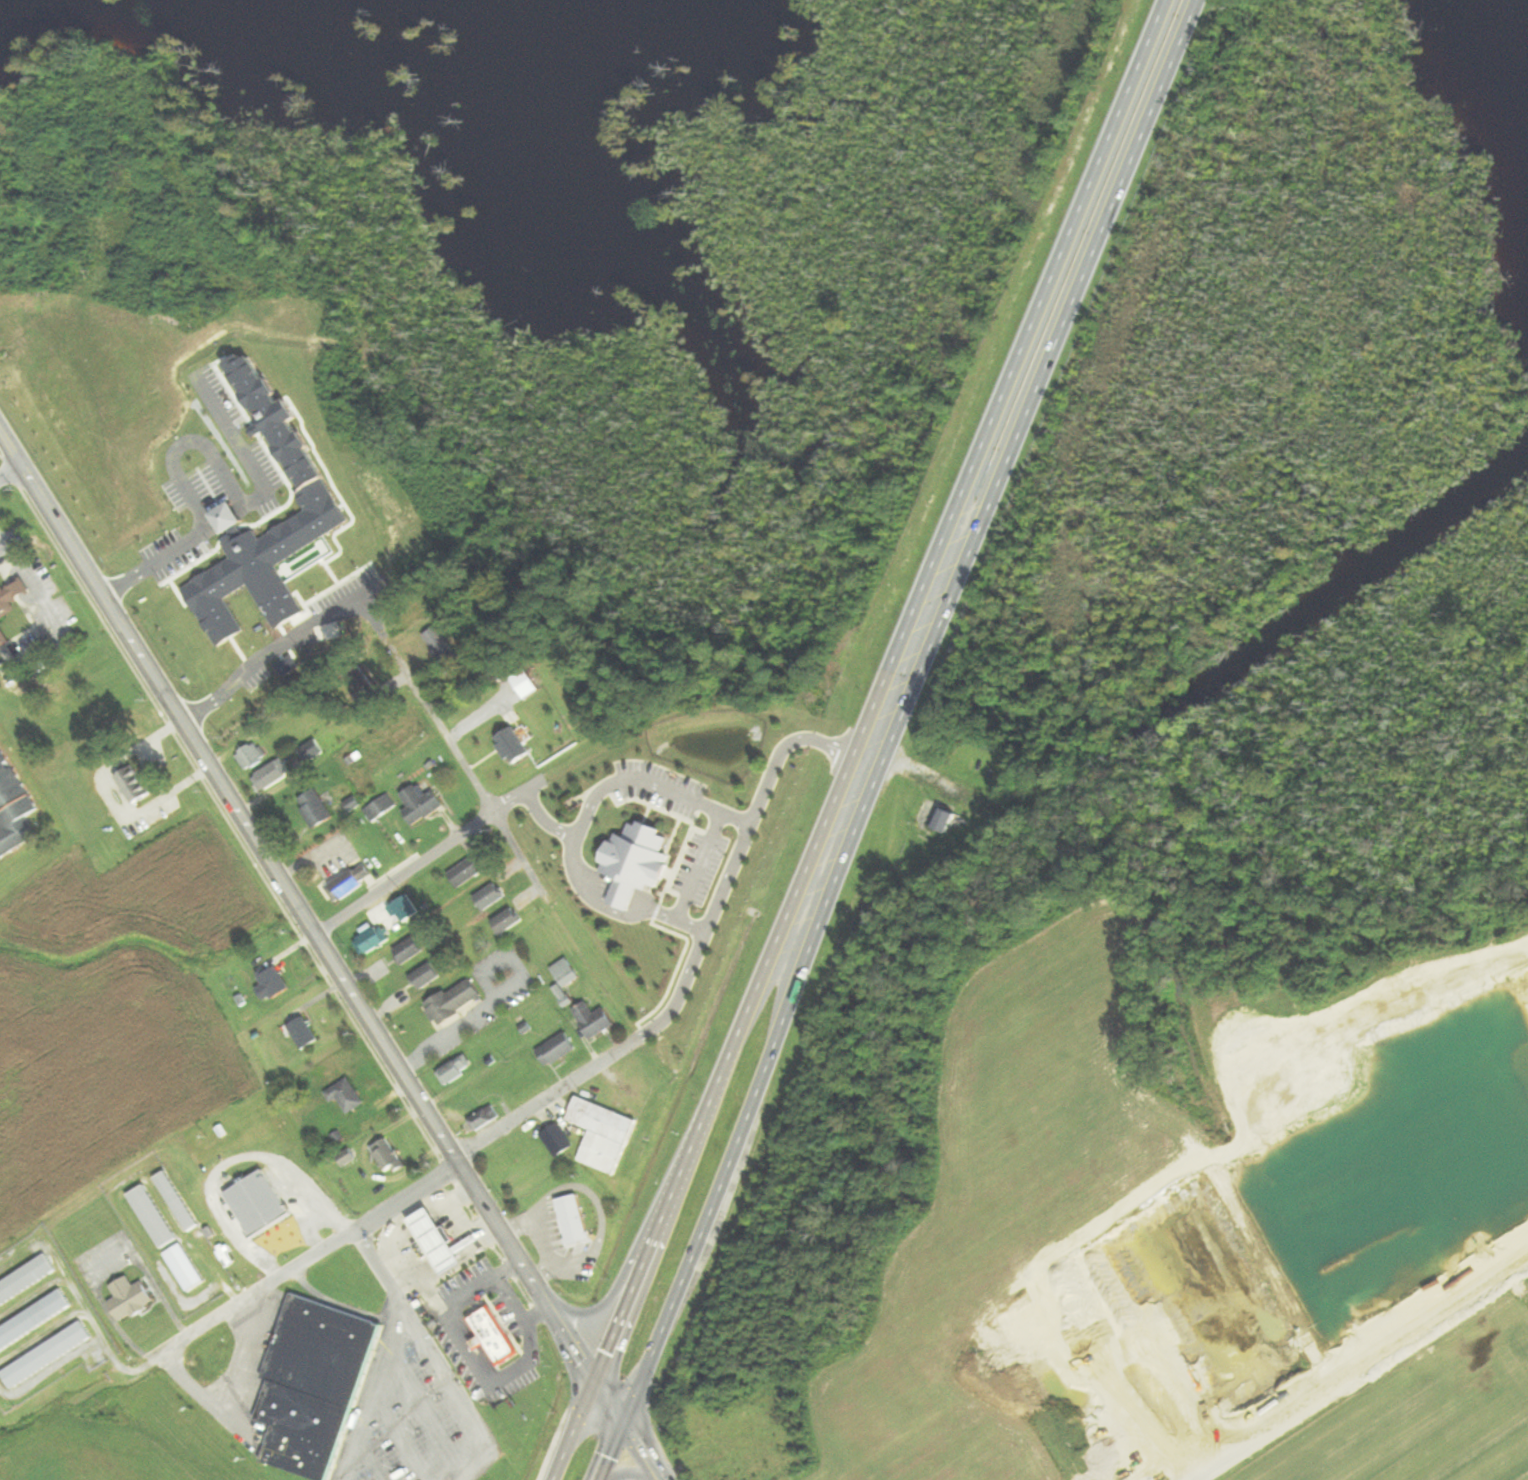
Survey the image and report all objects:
road: (1025, 350)
road: (1053, 357)
road: (195, 441)
road: (9, 468)
road: (42, 602)
building: (10, 608)
road: (289, 637)
building: (442, 646)
building: (527, 684)
building: (373, 695)
building: (313, 751)
building: (253, 756)
building: (273, 776)
road: (475, 777)
building: (136, 786)
building: (422, 805)
building: (382, 808)
building: (317, 809)
building: (14, 811)
building: (946, 820)
road: (461, 838)
road: (701, 867)
building: (469, 871)
building: (352, 883)
road: (725, 892)
building: (492, 897)
building: (406, 910)
building: (509, 921)
road: (314, 927)
building: (373, 942)
building: (410, 951)
building: (567, 973)
building: (427, 977)
building: (274, 985)
building: (564, 996)
building: (456, 1003)
building: (596, 1021)
building: (305, 1034)
building: (559, 1050)
building: (457, 1070)
road: (719, 1090)
building: (348, 1096)
road: (756, 1098)
building: (486, 1118)
road: (529, 1120)
building: (604, 1135)
building: (559, 1140)
building: (389, 1156)
building: (178, 1201)
building: (260, 1203)
building: (155, 1216)
building: (575, 1219)
building: (435, 1241)
road: (319, 1255)
building: (27, 1280)
building: (132, 1298)
road: (510, 1300)
road: (605, 1305)
building: (34, 1319)
building: (496, 1336)
road: (386, 1351)
building: (49, 1355)
traffic signals: (599, 1383)
building: (317, 1385)
road: (452, 1389)
traffic signals: (626, 1426)
road: (644, 1453)
road: (630, 1473)

